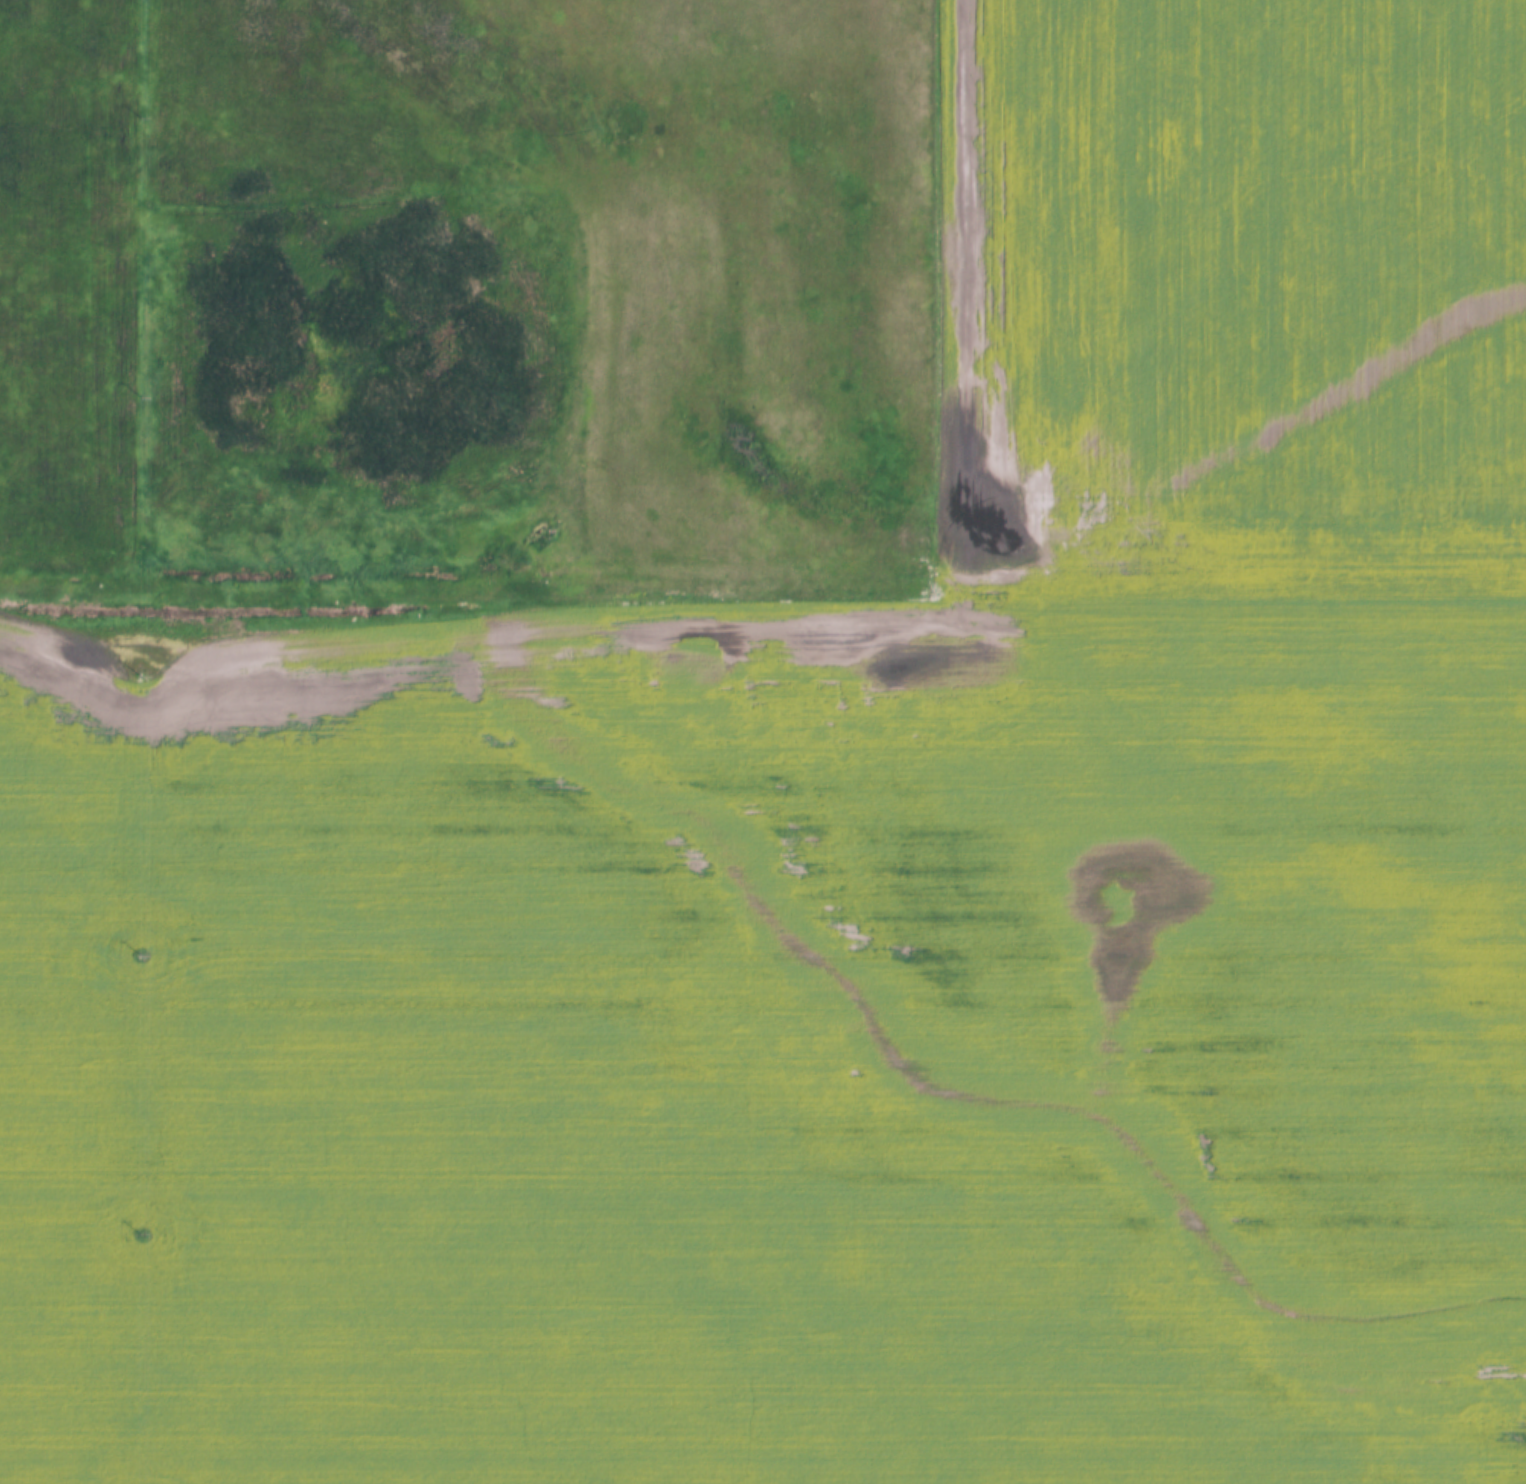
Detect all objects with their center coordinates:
road: (758, 589)

